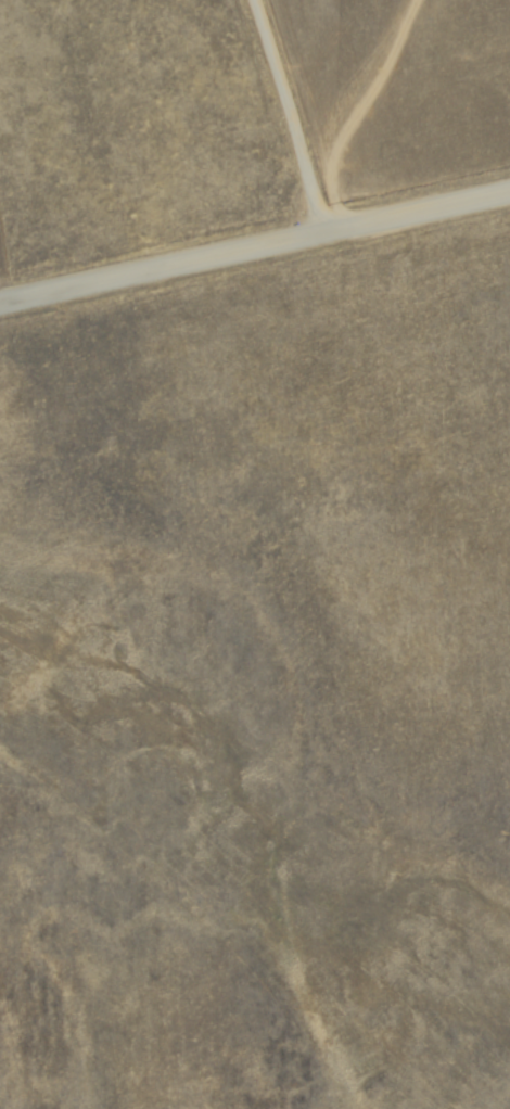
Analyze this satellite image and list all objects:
road: (360, 107)
road: (293, 113)
road: (254, 243)

